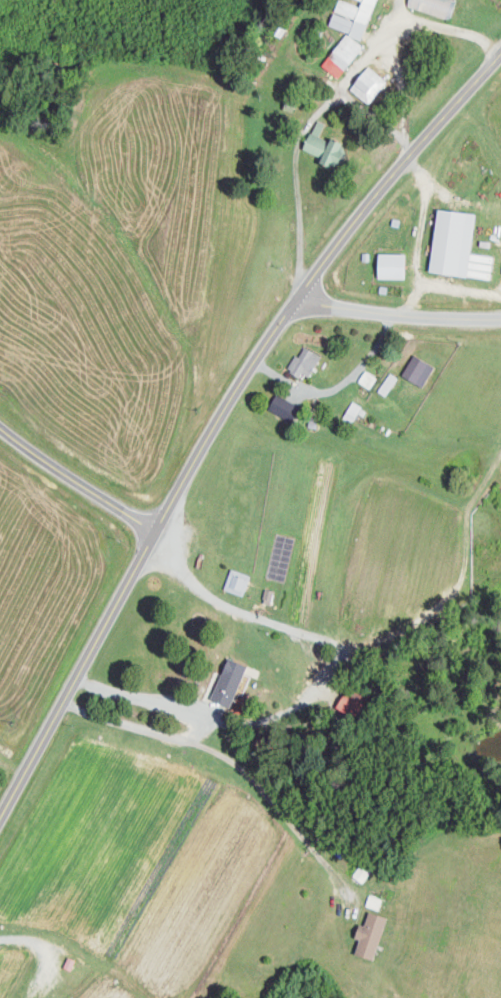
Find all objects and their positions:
building: (435, 7)
road: (394, 14)
building: (354, 17)
building: (343, 55)
building: (370, 84)
road: (331, 100)
building: (326, 145)
building: (459, 245)
building: (394, 265)
road: (312, 278)
road: (398, 312)
building: (306, 362)
building: (420, 369)
building: (369, 379)
road: (339, 383)
building: (389, 383)
building: (286, 407)
road: (75, 479)
building: (269, 596)
road: (236, 609)
road: (333, 659)
road: (77, 671)
building: (235, 681)
road: (137, 727)
road: (275, 803)
building: (372, 935)

